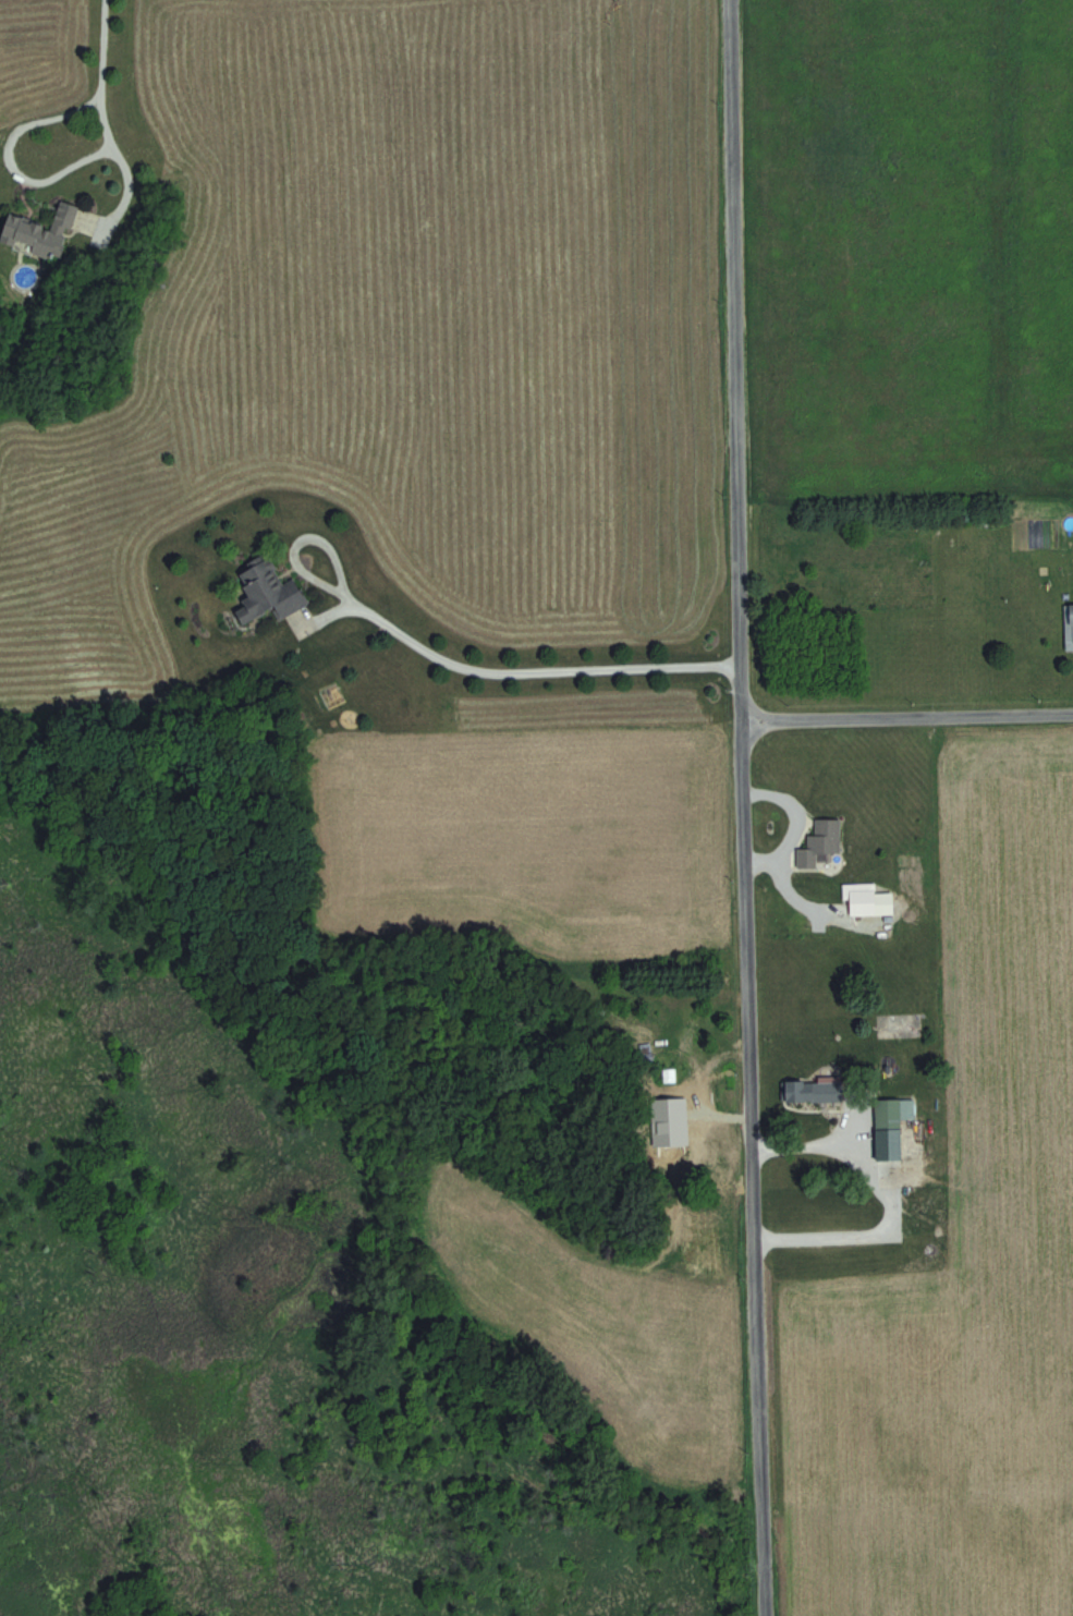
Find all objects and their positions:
road: (99, 48)
road: (3, 151)
building: (42, 231)
road: (296, 555)
building: (269, 592)
building: (1072, 622)
road: (525, 675)
road: (907, 717)
road: (743, 807)
building: (820, 842)
building: (817, 1089)
building: (890, 1131)
road: (813, 1144)
road: (855, 1240)

